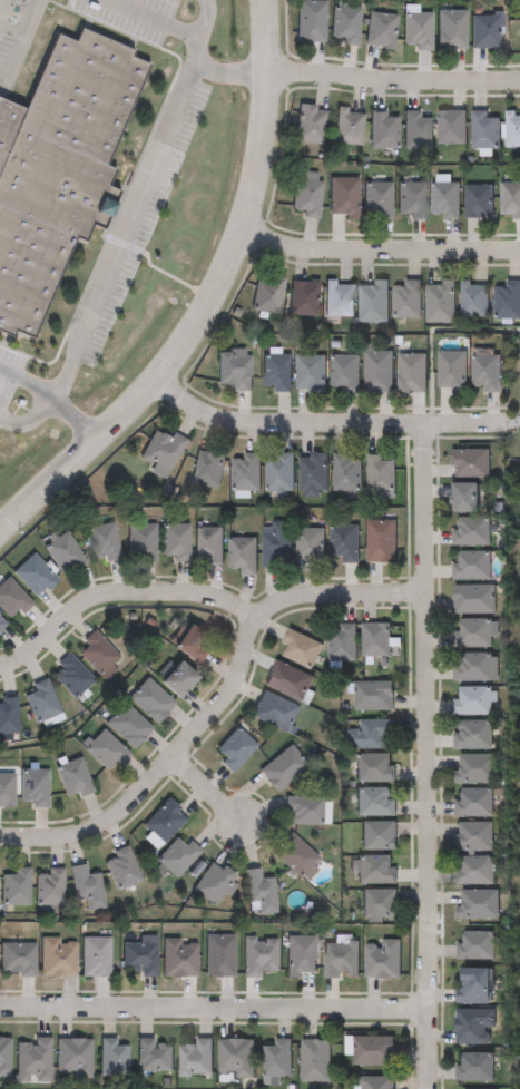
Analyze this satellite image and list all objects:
road: (154, 19)
building: (310, 20)
building: (345, 23)
building: (450, 29)
building: (380, 30)
building: (416, 30)
building: (484, 30)
road: (21, 42)
road: (197, 62)
road: (392, 79)
building: (310, 124)
building: (347, 126)
building: (450, 127)
building: (383, 129)
building: (415, 129)
building: (484, 129)
building: (512, 130)
building: (60, 167)
building: (306, 195)
building: (343, 196)
building: (510, 198)
building: (376, 199)
building: (410, 199)
building: (444, 199)
building: (478, 200)
road: (125, 232)
road: (376, 254)
building: (267, 294)
building: (303, 297)
building: (406, 298)
building: (337, 300)
building: (473, 300)
building: (507, 300)
road: (208, 301)
building: (372, 302)
building: (440, 302)
building: (451, 369)
building: (233, 370)
building: (375, 370)
building: (484, 371)
building: (274, 372)
building: (410, 372)
building: (308, 373)
building: (343, 373)
road: (30, 377)
road: (29, 418)
road: (77, 419)
road: (512, 420)
road: (321, 426)
building: (160, 451)
building: (469, 462)
building: (207, 467)
building: (245, 472)
building: (279, 472)
building: (345, 472)
building: (379, 472)
building: (312, 473)
building: (464, 498)
building: (470, 531)
building: (381, 540)
building: (174, 541)
building: (102, 542)
building: (140, 542)
building: (343, 542)
building: (208, 543)
building: (275, 543)
building: (308, 546)
building: (62, 553)
building: (242, 555)
building: (470, 566)
building: (33, 576)
road: (117, 592)
building: (473, 598)
building: (12, 600)
building: (2, 626)
building: (473, 632)
building: (374, 639)
building: (342, 642)
building: (190, 645)
building: (300, 648)
building: (97, 653)
building: (474, 667)
building: (71, 676)
building: (176, 679)
building: (287, 680)
building: (373, 695)
building: (41, 700)
building: (149, 700)
building: (473, 700)
road: (216, 710)
building: (275, 712)
building: (8, 719)
building: (127, 725)
building: (370, 733)
building: (471, 734)
building: (104, 749)
building: (234, 749)
road: (422, 755)
building: (373, 766)
building: (282, 768)
building: (474, 768)
building: (72, 777)
building: (32, 786)
building: (6, 789)
road: (209, 791)
building: (374, 799)
building: (472, 801)
building: (303, 808)
building: (164, 818)
building: (377, 833)
building: (473, 834)
building: (295, 854)
building: (177, 855)
building: (121, 867)
building: (375, 867)
building: (474, 869)
building: (214, 882)
building: (16, 885)
building: (49, 886)
building: (87, 886)
building: (259, 890)
building: (478, 903)
building: (379, 904)
building: (474, 943)
building: (218, 954)
building: (300, 954)
building: (57, 955)
building: (94, 955)
building: (259, 955)
building: (16, 956)
building: (138, 956)
building: (178, 956)
building: (381, 958)
building: (340, 959)
building: (472, 984)
road: (212, 1011)
building: (474, 1026)
building: (370, 1049)
building: (154, 1054)
building: (4, 1056)
building: (72, 1056)
building: (195, 1056)
building: (111, 1057)
building: (235, 1057)
building: (276, 1057)
building: (32, 1058)
building: (314, 1059)
building: (474, 1066)
building: (376, 1082)

